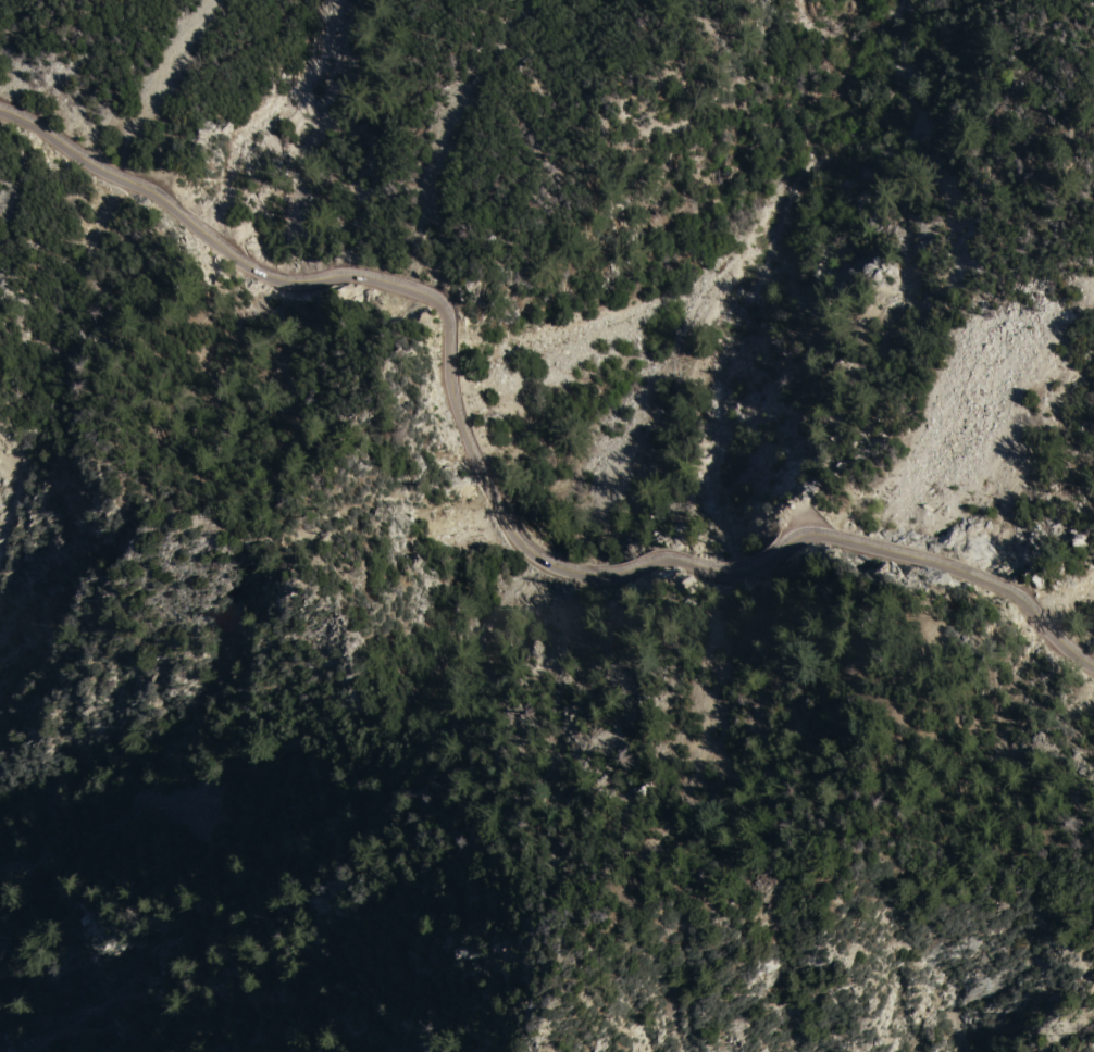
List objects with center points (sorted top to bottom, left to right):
road: (481, 499)
road: (418, 731)
road: (813, 889)

